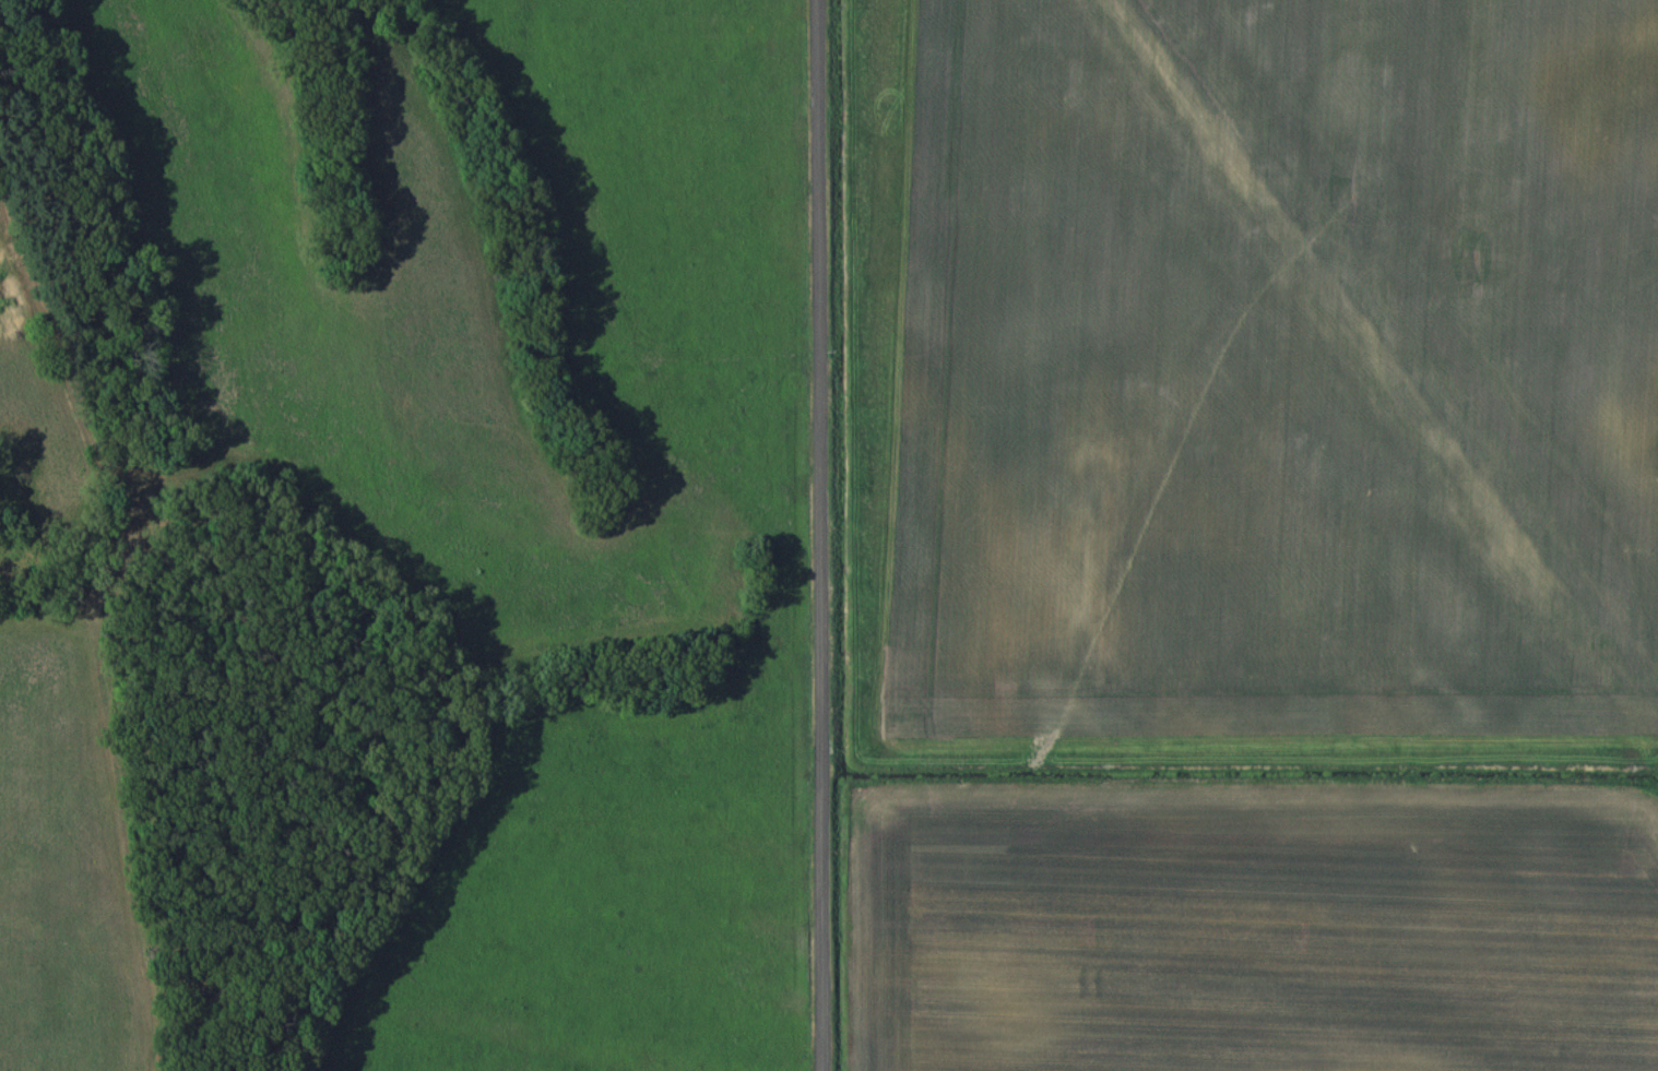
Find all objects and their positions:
road: (818, 535)

